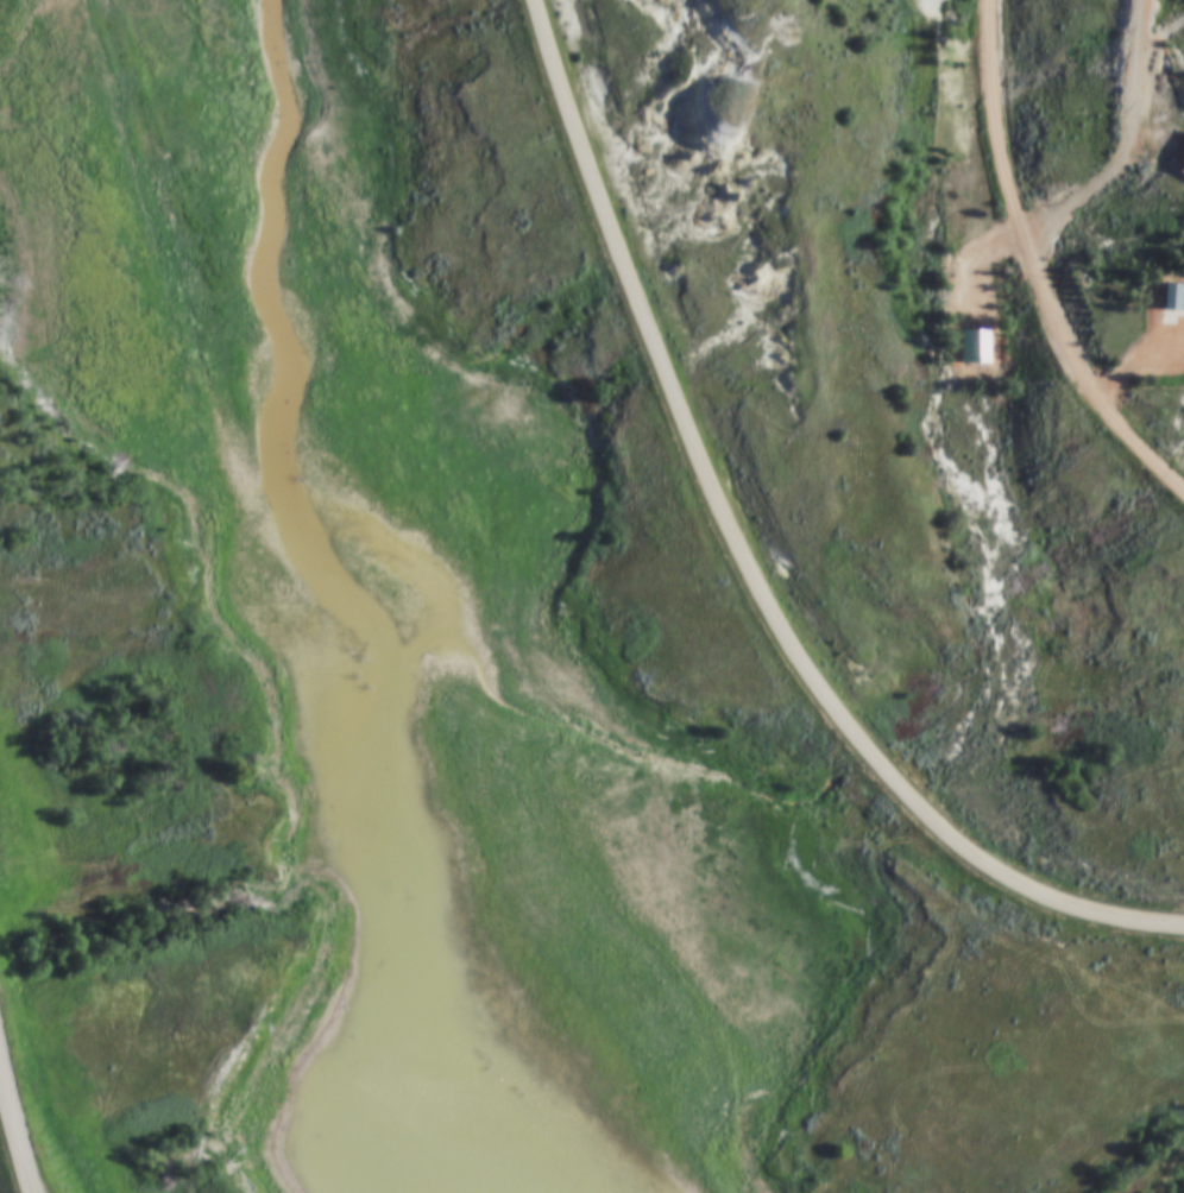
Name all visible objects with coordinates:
road: (1125, 151)
building: (1180, 162)
road: (1026, 270)
building: (1169, 298)
building: (971, 346)
road: (744, 562)
road: (13, 1130)

